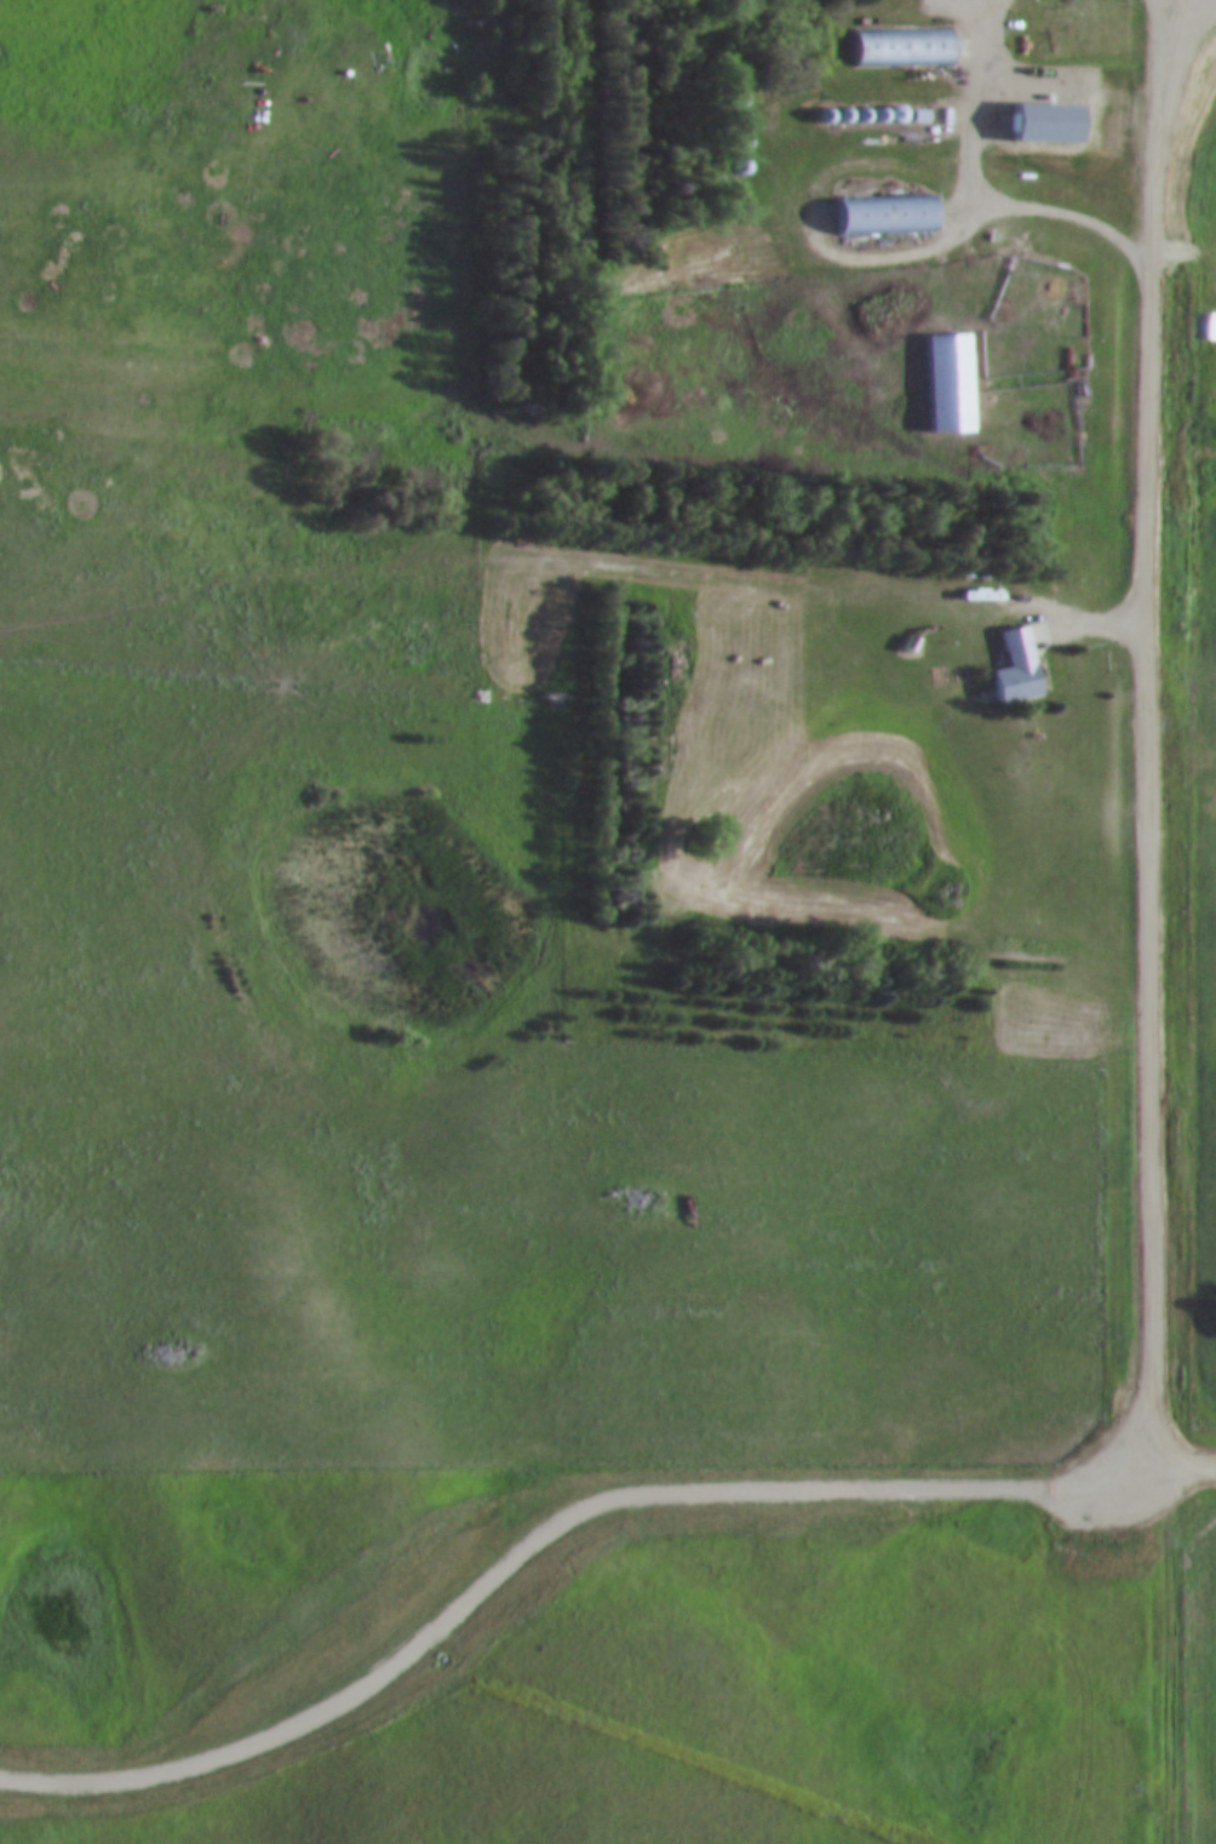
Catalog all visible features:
road: (1160, 6)
road: (1155, 45)
building: (900, 52)
road: (982, 104)
building: (1039, 128)
building: (876, 218)
road: (925, 253)
building: (941, 383)
building: (1022, 669)
road: (1149, 779)
road: (1193, 1459)
road: (544, 1529)
road: (1164, 1643)

